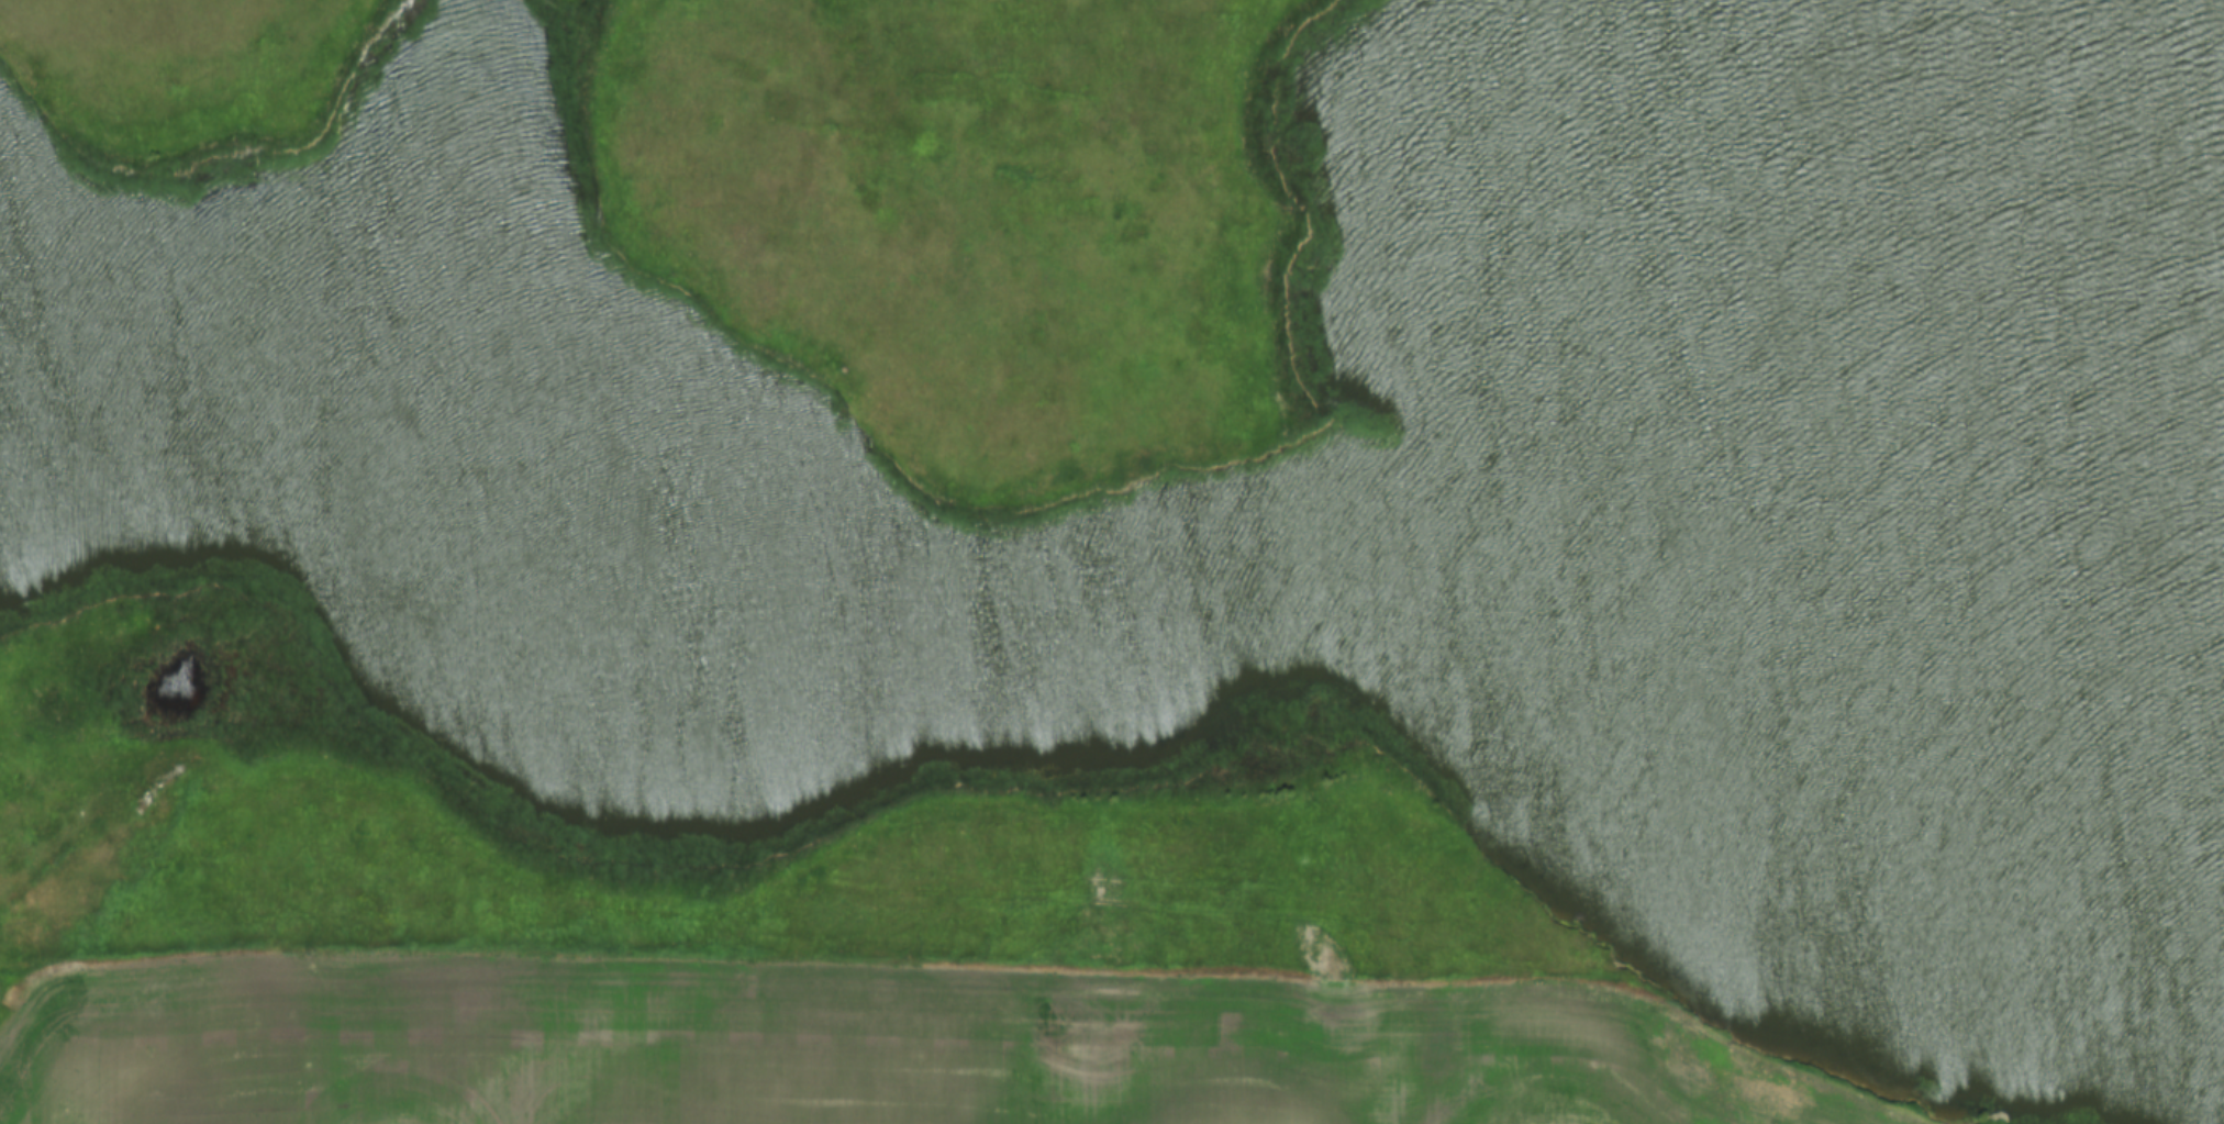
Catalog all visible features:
road: (986, 920)

